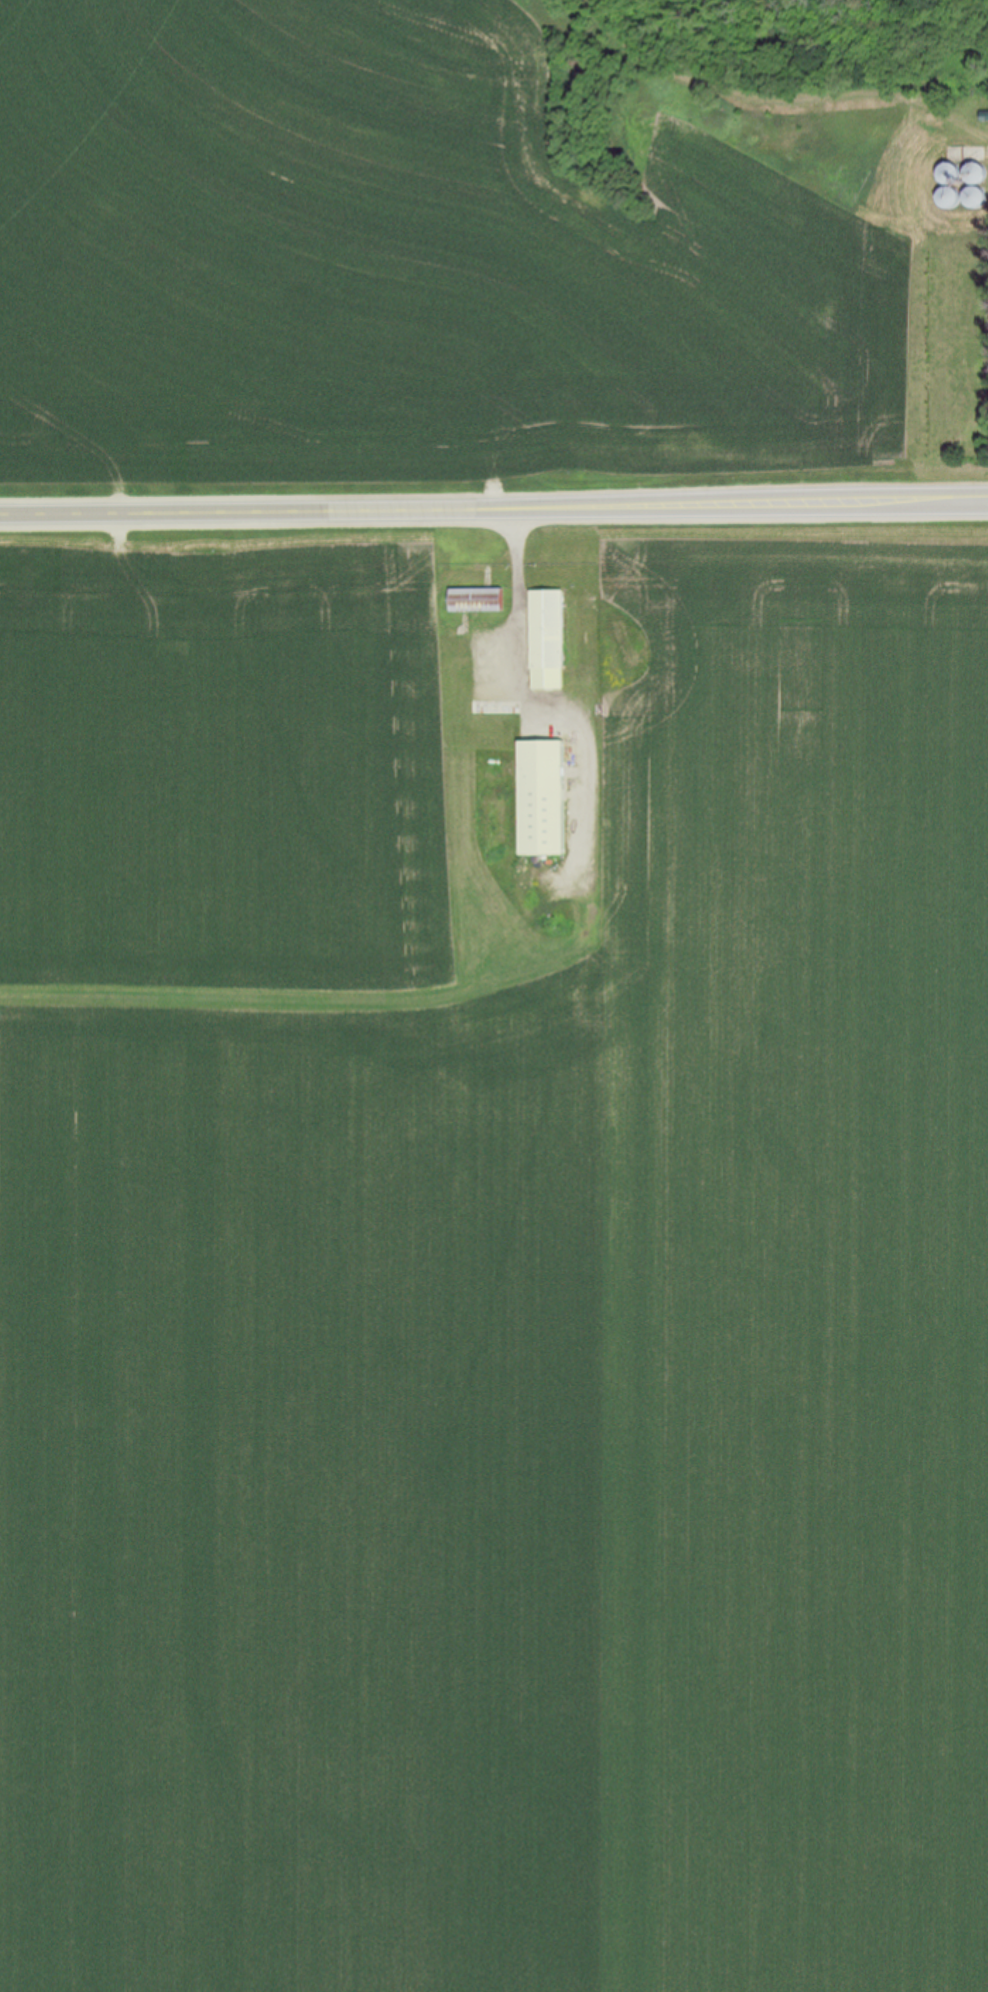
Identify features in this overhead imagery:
building: (952, 174)
building: (979, 174)
building: (978, 197)
building: (953, 198)
road: (493, 514)
building: (478, 598)
building: (549, 638)
building: (545, 796)

